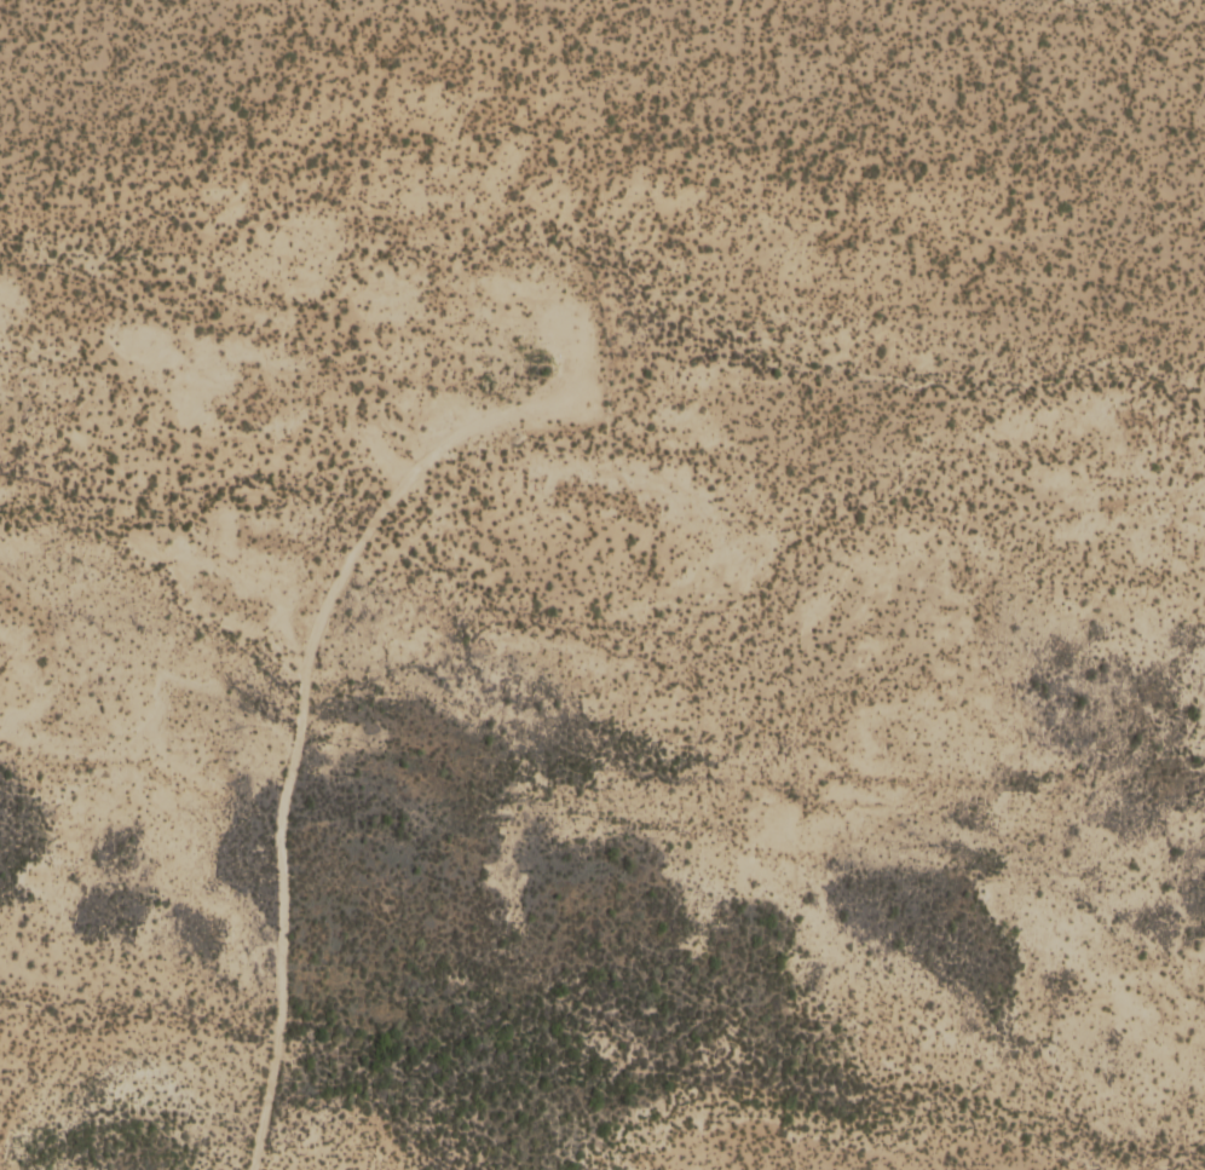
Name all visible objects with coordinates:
building: (298, 25)
building: (402, 92)

